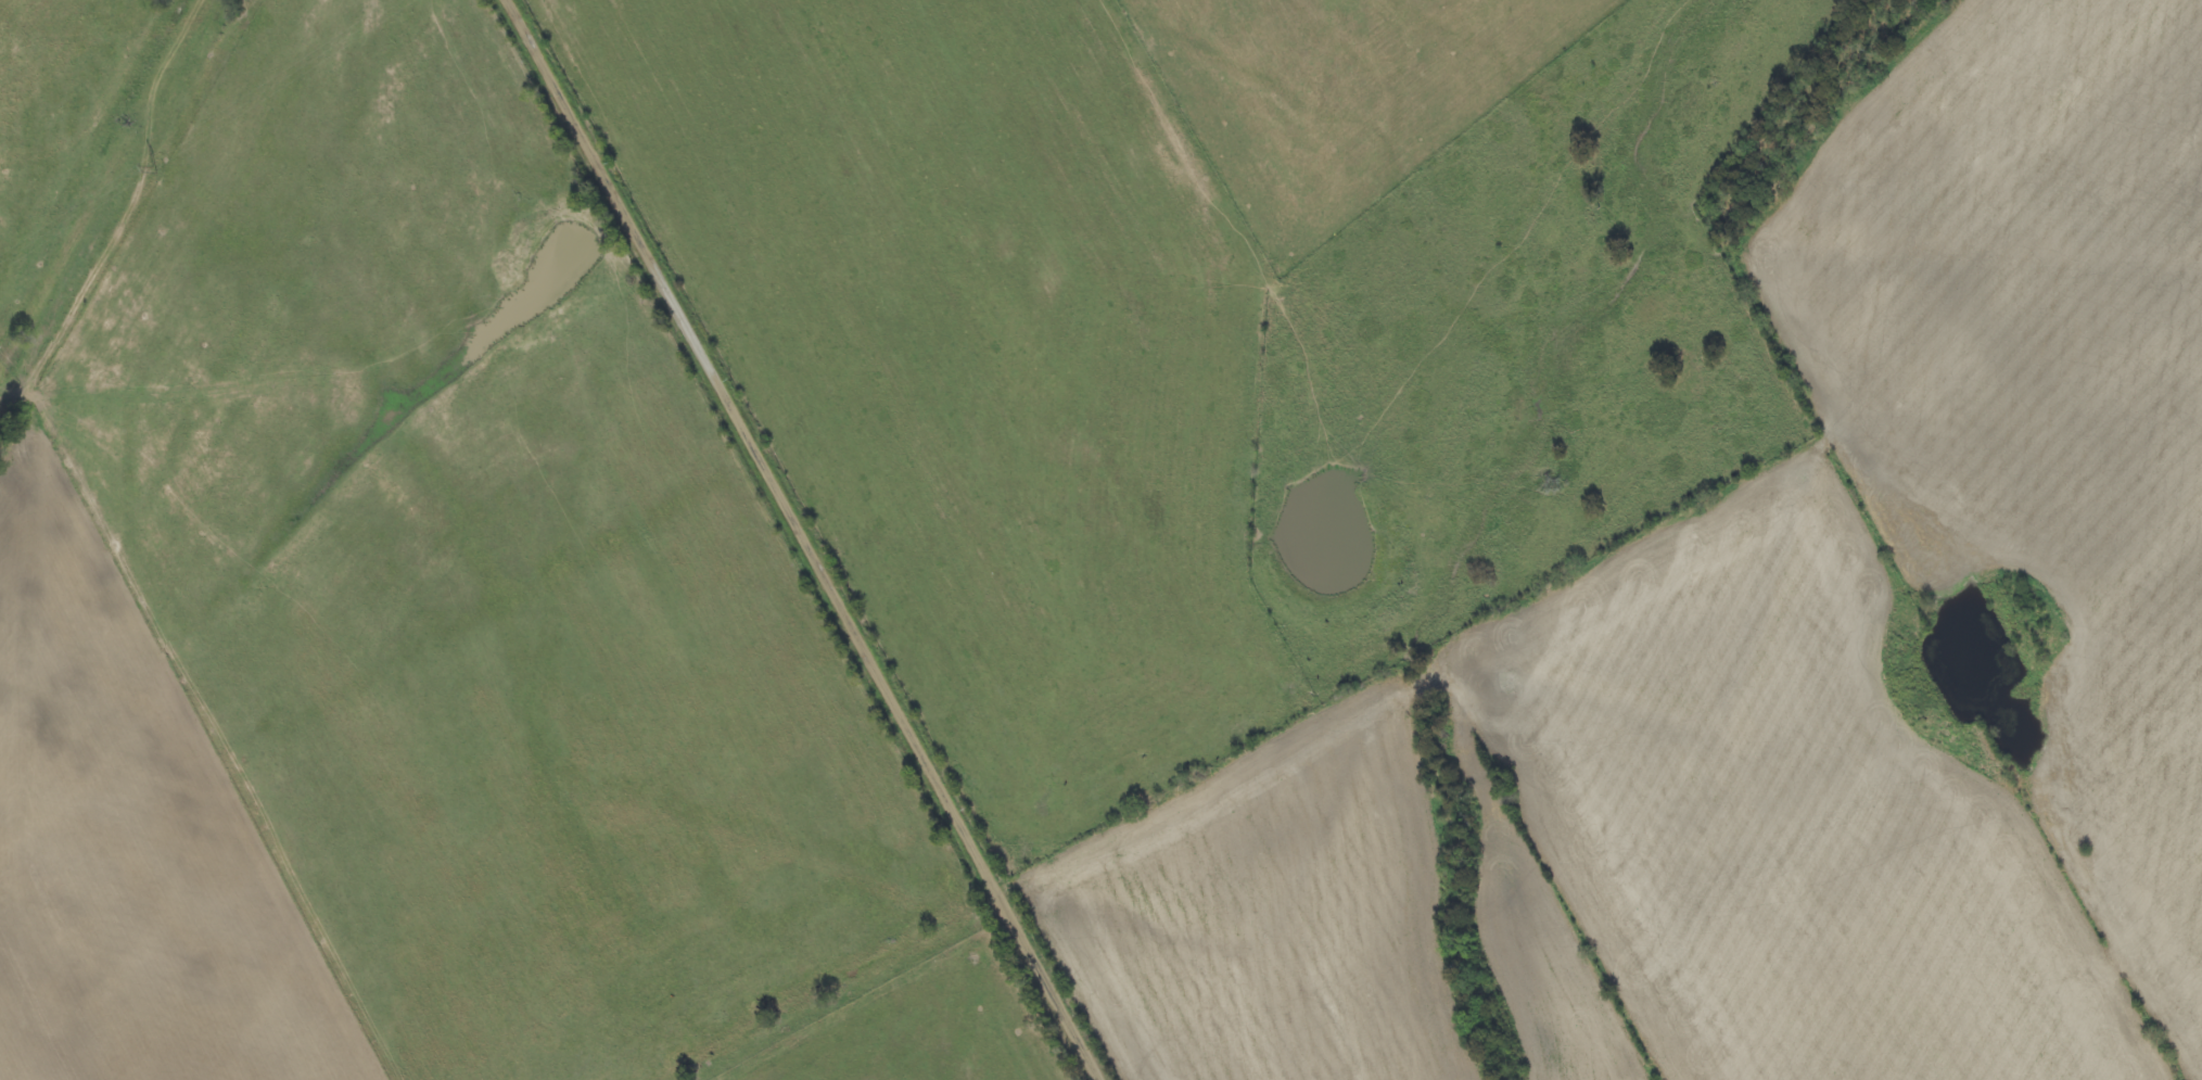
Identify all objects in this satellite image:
power tower: (153, 169)
railway: (105, 181)
road: (810, 538)

